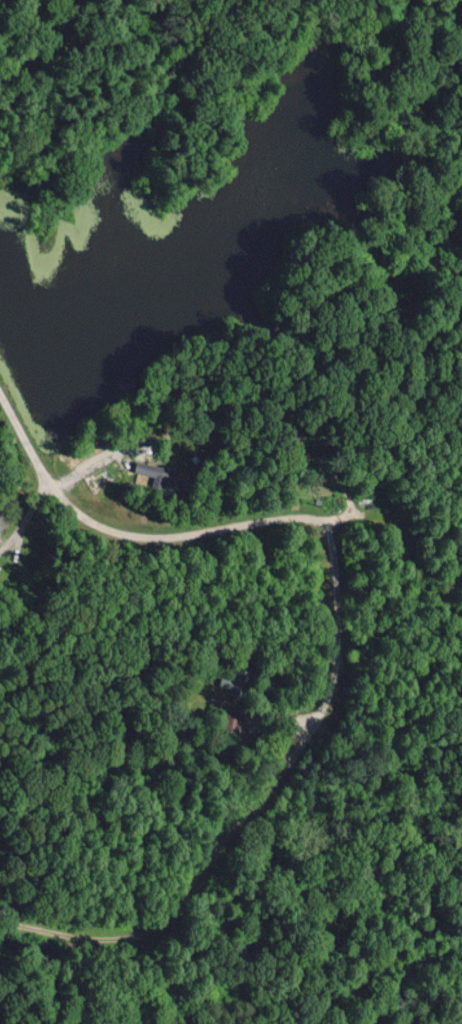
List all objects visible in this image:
road: (38, 106)
road: (338, 637)

